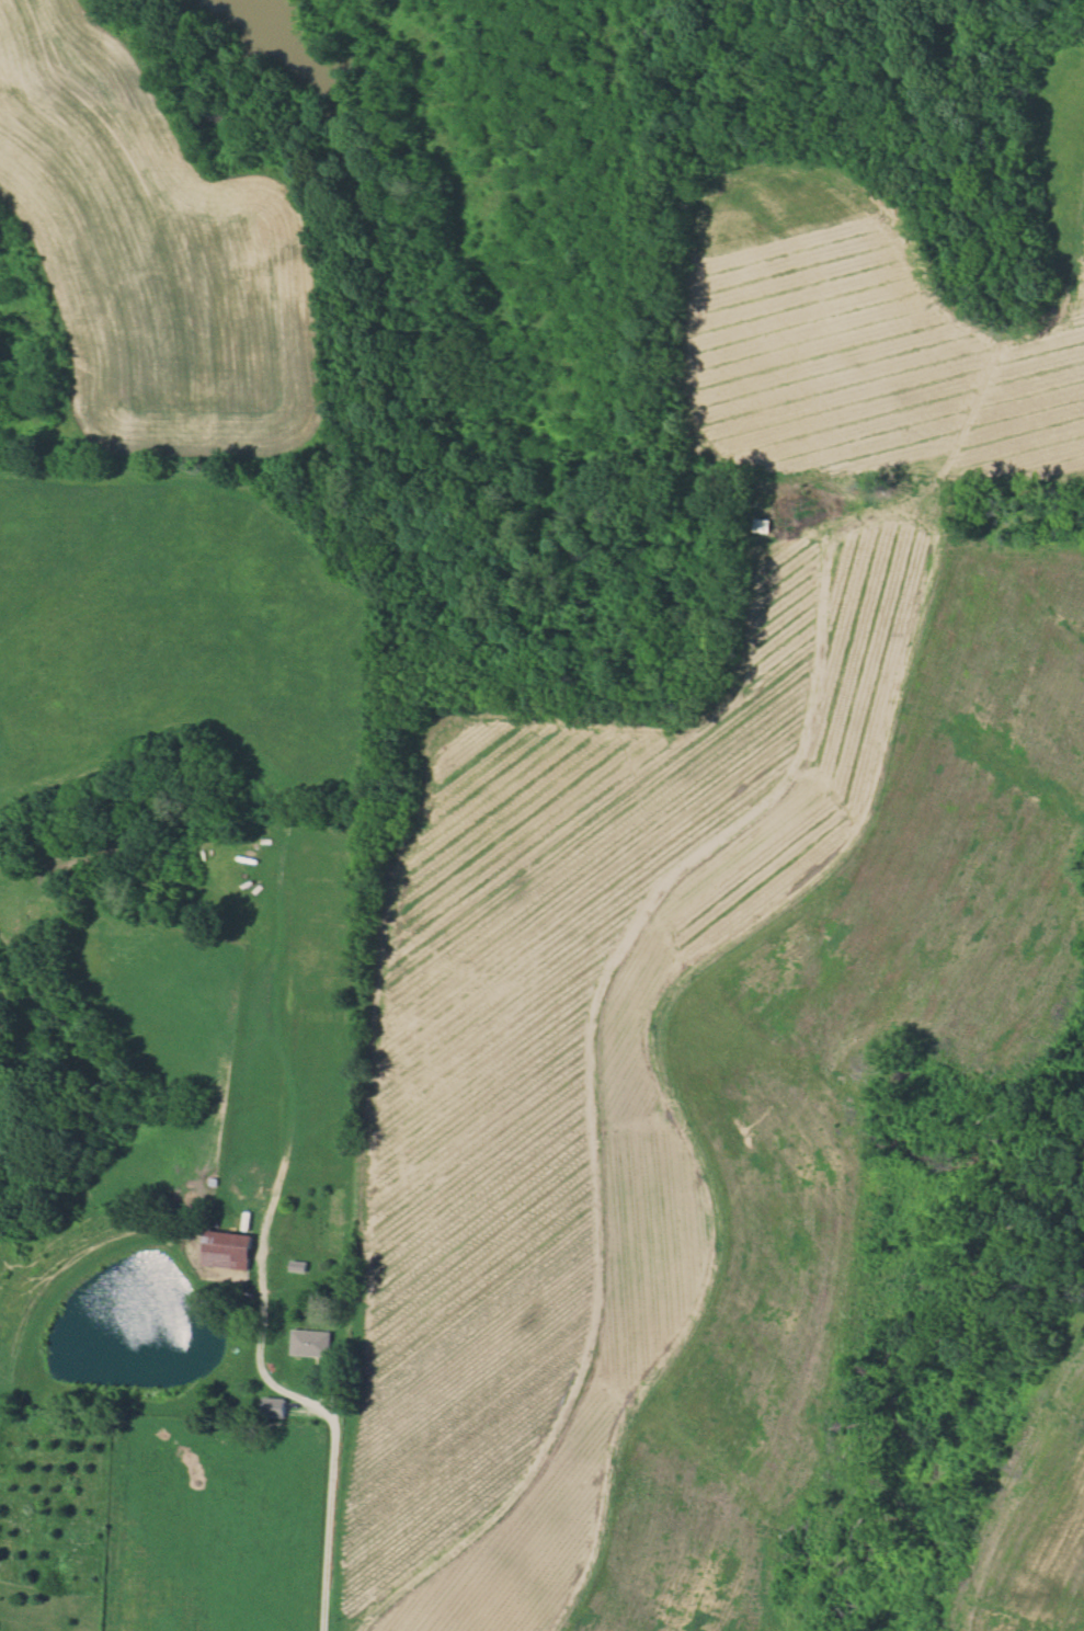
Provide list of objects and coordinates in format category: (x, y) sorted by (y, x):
crop: (153, 256)
road: (879, 524)
crop: (170, 624)
crop: (241, 1026)
crop: (3, 1094)
building: (228, 1250)
crop: (38, 1284)
building: (311, 1343)
building: (273, 1406)
road: (327, 1416)
crop: (157, 1509)

